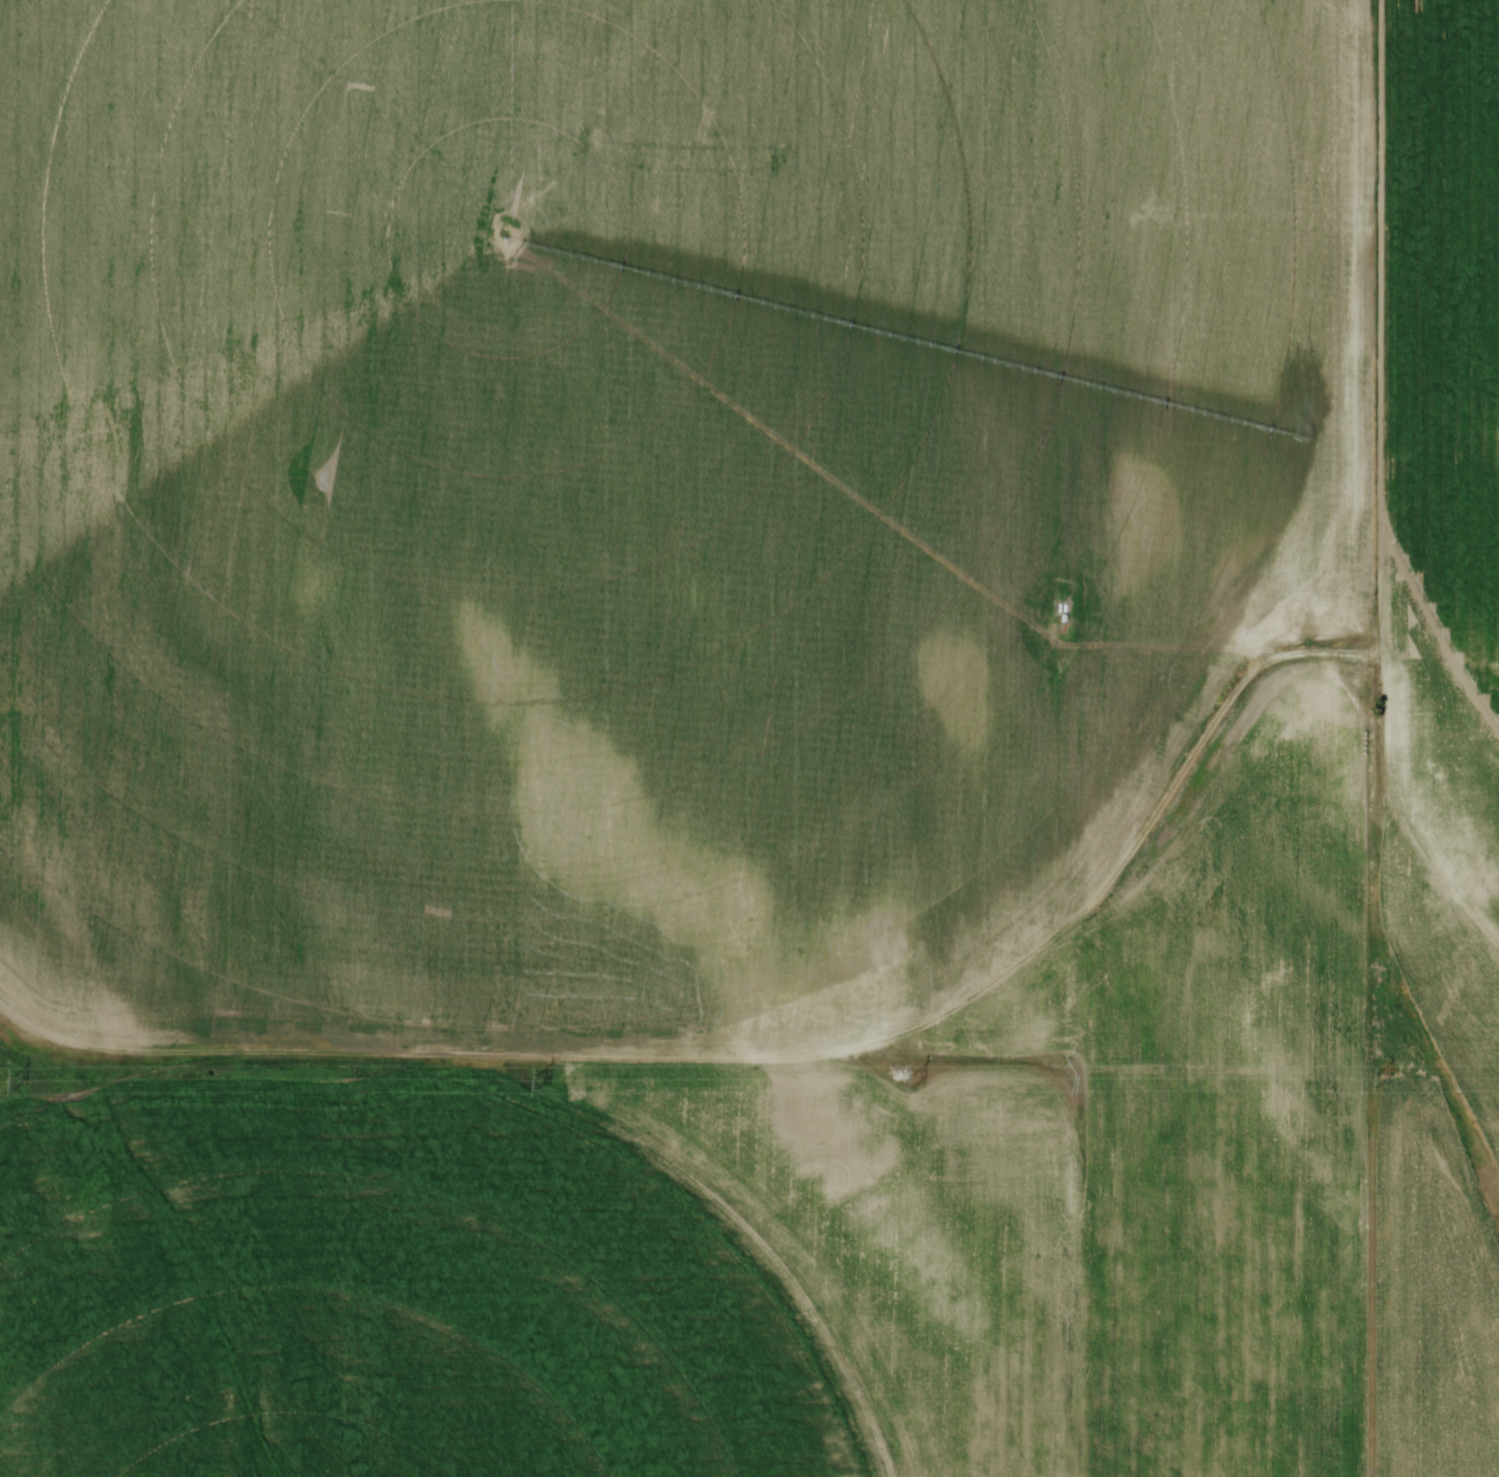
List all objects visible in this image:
power tower: (15, 1078)
power tower: (540, 1078)
power tower: (913, 1079)
power tower: (1377, 1079)

